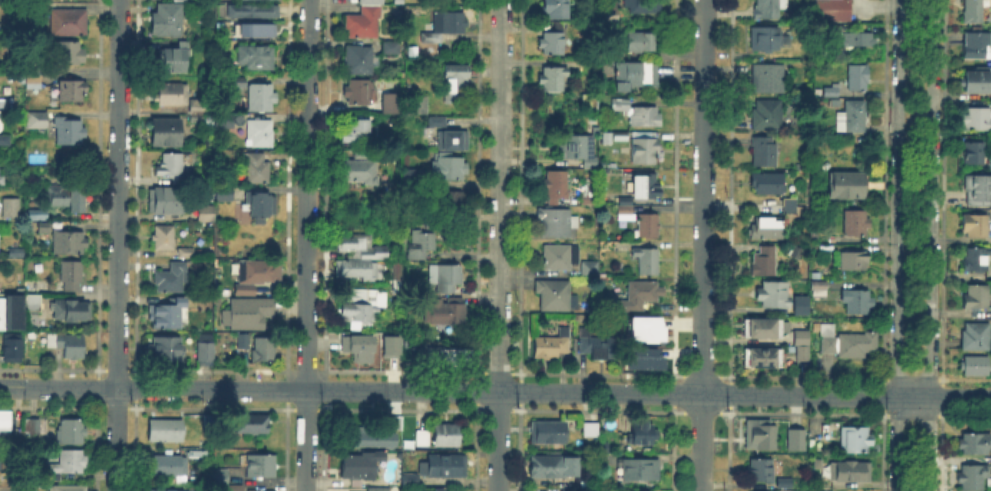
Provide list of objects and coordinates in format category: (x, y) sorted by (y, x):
building: (181, 0)
building: (399, 3)
building: (645, 5)
building: (555, 9)
building: (769, 9)
building: (830, 9)
building: (254, 10)
building: (35, 11)
building: (612, 11)
building: (974, 11)
building: (365, 20)
building: (170, 21)
building: (69, 23)
building: (445, 27)
building: (253, 28)
building: (860, 39)
building: (766, 40)
building: (642, 43)
building: (553, 45)
building: (978, 47)
building: (392, 49)
building: (70, 53)
building: (257, 59)
building: (173, 60)
building: (361, 61)
building: (636, 74)
building: (32, 76)
building: (550, 77)
building: (859, 78)
building: (769, 79)
building: (453, 81)
building: (240, 83)
building: (980, 83)
building: (73, 91)
building: (360, 93)
building: (832, 93)
building: (172, 95)
building: (262, 98)
building: (390, 102)
building: (420, 106)
building: (621, 107)
building: (199, 111)
building: (768, 116)
building: (853, 118)
building: (645, 119)
building: (977, 120)
building: (38, 121)
building: (225, 123)
building: (437, 123)
building: (356, 131)
building: (69, 132)
building: (166, 134)
building: (261, 134)
building: (621, 138)
building: (5, 139)
building: (454, 142)
building: (579, 151)
building: (645, 152)
building: (974, 154)
building: (764, 155)
building: (170, 166)
building: (448, 168)
building: (259, 170)
building: (361, 172)
building: (413, 179)
building: (5, 181)
building: (768, 184)
building: (847, 186)
park: (913, 186)
building: (644, 188)
building: (556, 189)
building: (979, 190)
building: (224, 194)
building: (66, 199)
building: (166, 202)
building: (450, 204)
building: (261, 205)
building: (790, 207)
building: (11, 209)
building: (626, 209)
building: (206, 214)
building: (41, 216)
building: (423, 217)
building: (555, 223)
building: (855, 223)
building: (976, 225)
building: (649, 226)
building: (44, 229)
building: (768, 229)
building: (163, 238)
building: (630, 238)
building: (68, 242)
building: (421, 244)
road: (117, 245)
road: (307, 245)
road: (499, 245)
road: (703, 245)
road: (895, 245)
road: (931, 245)
building: (364, 248)
building: (560, 256)
building: (646, 260)
building: (977, 260)
building: (853, 262)
building: (765, 265)
building: (359, 270)
building: (590, 270)
building: (259, 271)
building: (72, 277)
building: (449, 278)
building: (172, 279)
building: (817, 290)
building: (554, 295)
building: (775, 295)
building: (639, 297)
building: (976, 297)
building: (857, 302)
building: (32, 304)
building: (362, 306)
building: (801, 309)
building: (73, 312)
building: (448, 312)
building: (11, 313)
building: (248, 314)
building: (169, 315)
building: (643, 327)
building: (762, 330)
building: (976, 337)
building: (390, 341)
building: (244, 342)
building: (849, 344)
building: (68, 345)
building: (553, 346)
building: (802, 346)
building: (409, 347)
building: (596, 347)
building: (360, 348)
building: (166, 350)
building: (12, 351)
building: (264, 351)
building: (206, 356)
building: (641, 357)
building: (452, 359)
building: (762, 359)
building: (976, 367)
road: (495, 389)
building: (7, 424)
building: (396, 424)
building: (253, 425)
building: (36, 427)
building: (591, 429)
building: (166, 431)
building: (642, 431)
building: (71, 432)
building: (548, 432)
building: (447, 435)
building: (764, 436)
building: (368, 438)
building: (423, 439)
building: (795, 441)
building: (855, 441)
building: (975, 446)
building: (199, 453)
park: (911, 455)
building: (68, 465)
building: (261, 466)
building: (361, 466)
building: (170, 467)
building: (444, 467)
building: (549, 468)
building: (641, 470)
building: (850, 471)
building: (760, 472)
building: (220, 474)
building: (974, 476)
building: (407, 478)
building: (785, 484)
building: (437, 488)
building: (67, 489)
building: (166, 489)
building: (236, 489)
building: (379, 489)
building: (571, 490)
building: (638, 490)

